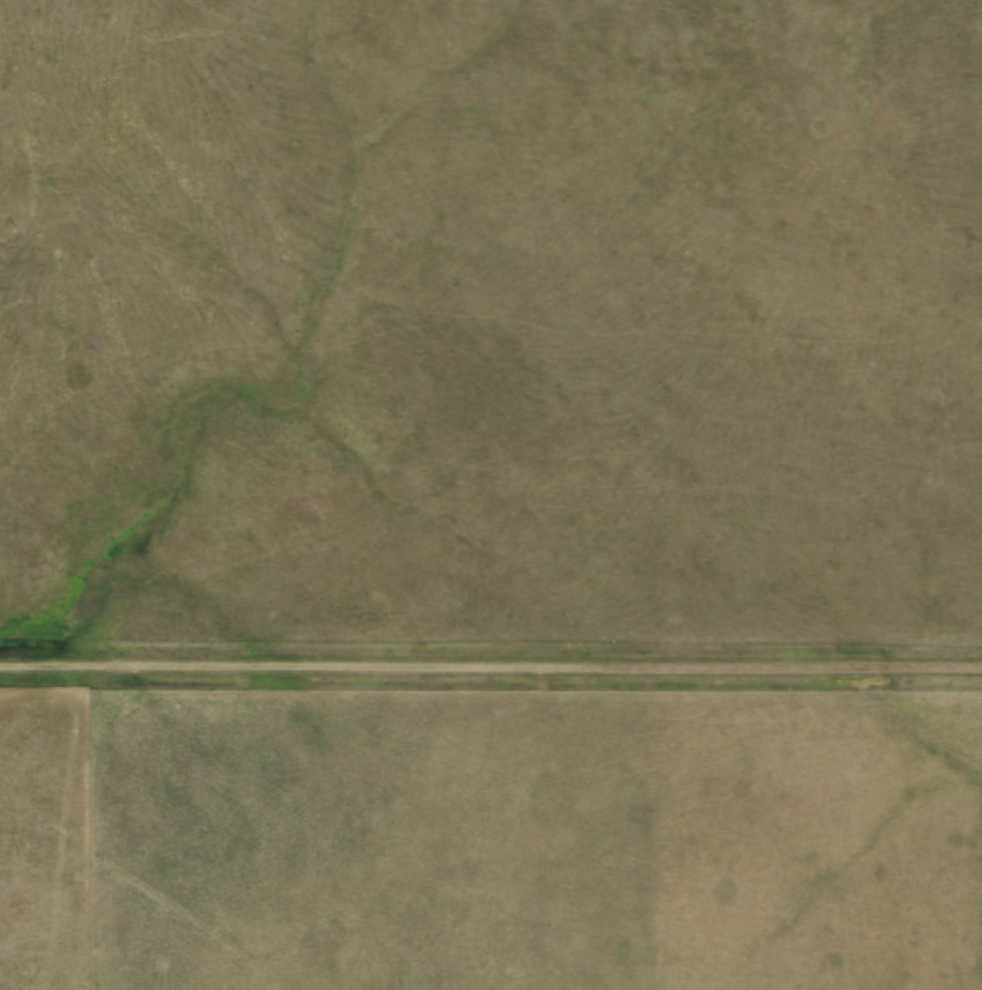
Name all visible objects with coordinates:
road: (490, 672)

